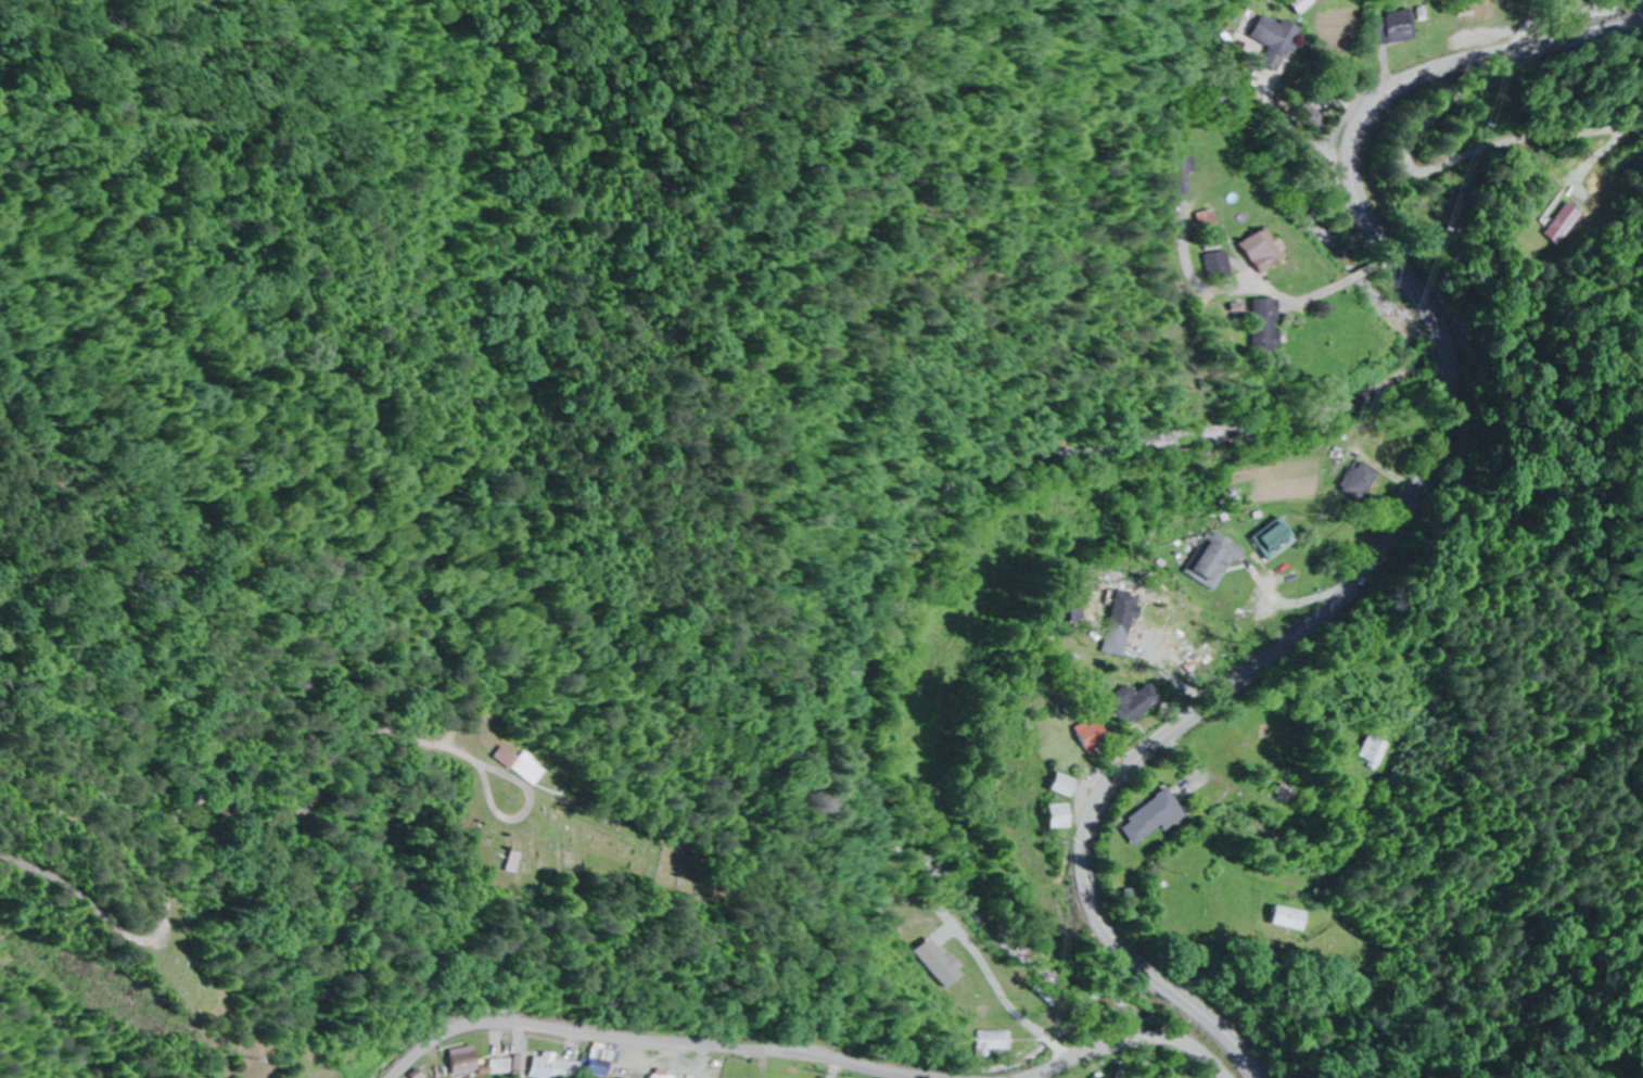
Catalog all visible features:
road: (1540, 25)
building: (1392, 27)
building: (1269, 39)
building: (1192, 174)
building: (1561, 220)
building: (1261, 249)
building: (1223, 263)
building: (1263, 327)
building: (1360, 480)
road: (1401, 535)
building: (1274, 540)
building: (1214, 562)
building: (1117, 616)
building: (1130, 702)
building: (1086, 734)
building: (1366, 751)
building: (519, 769)
road: (216, 785)
building: (1056, 785)
building: (1048, 816)
building: (1147, 817)
building: (495, 862)
building: (1275, 918)
road: (69, 995)
building: (994, 1042)
road: (621, 1051)
road: (1139, 1054)
building: (507, 1066)
building: (560, 1067)

